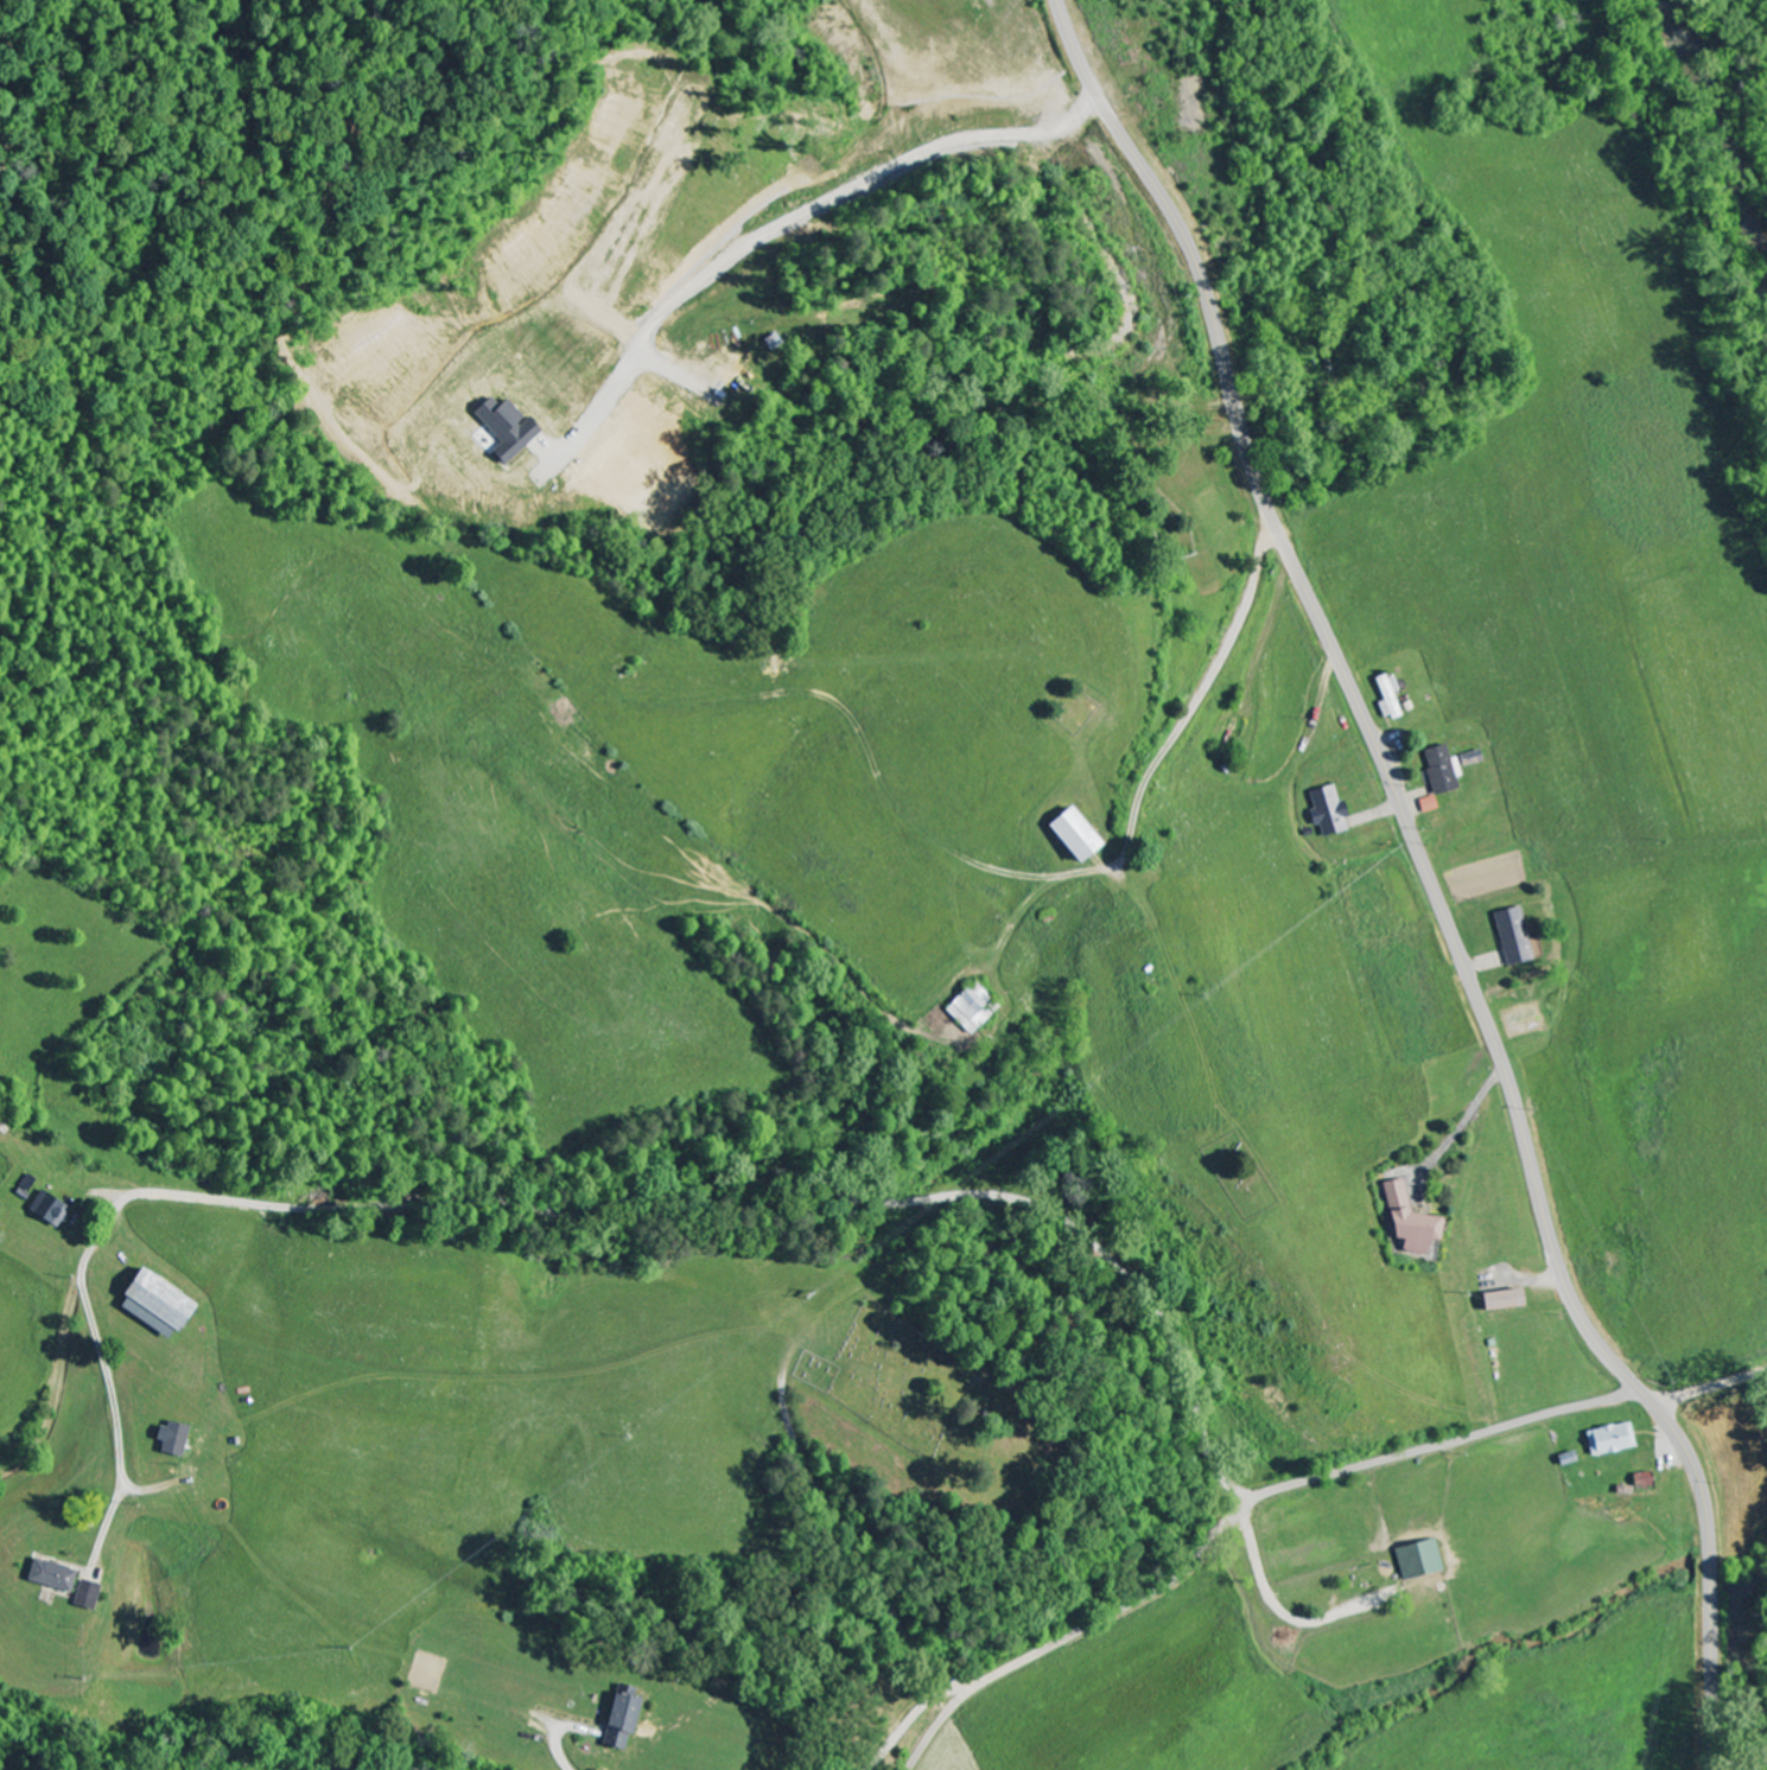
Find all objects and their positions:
road: (1634, 42)
river: (1718, 144)
building: (503, 429)
road: (1234, 440)
building: (1387, 698)
building: (1442, 770)
building: (1428, 806)
building: (1327, 811)
building: (1068, 834)
road: (1431, 877)
building: (1512, 936)
road: (614, 1202)
building: (50, 1214)
road: (540, 1225)
building: (1500, 1300)
building: (150, 1304)
road: (1710, 1386)
park: (933, 1399)
building: (169, 1439)
building: (1609, 1440)
building: (1640, 1479)
road: (1238, 1514)
building: (1417, 1560)
building: (49, 1577)
building: (84, 1596)
river: (1752, 1653)
building: (618, 1720)

